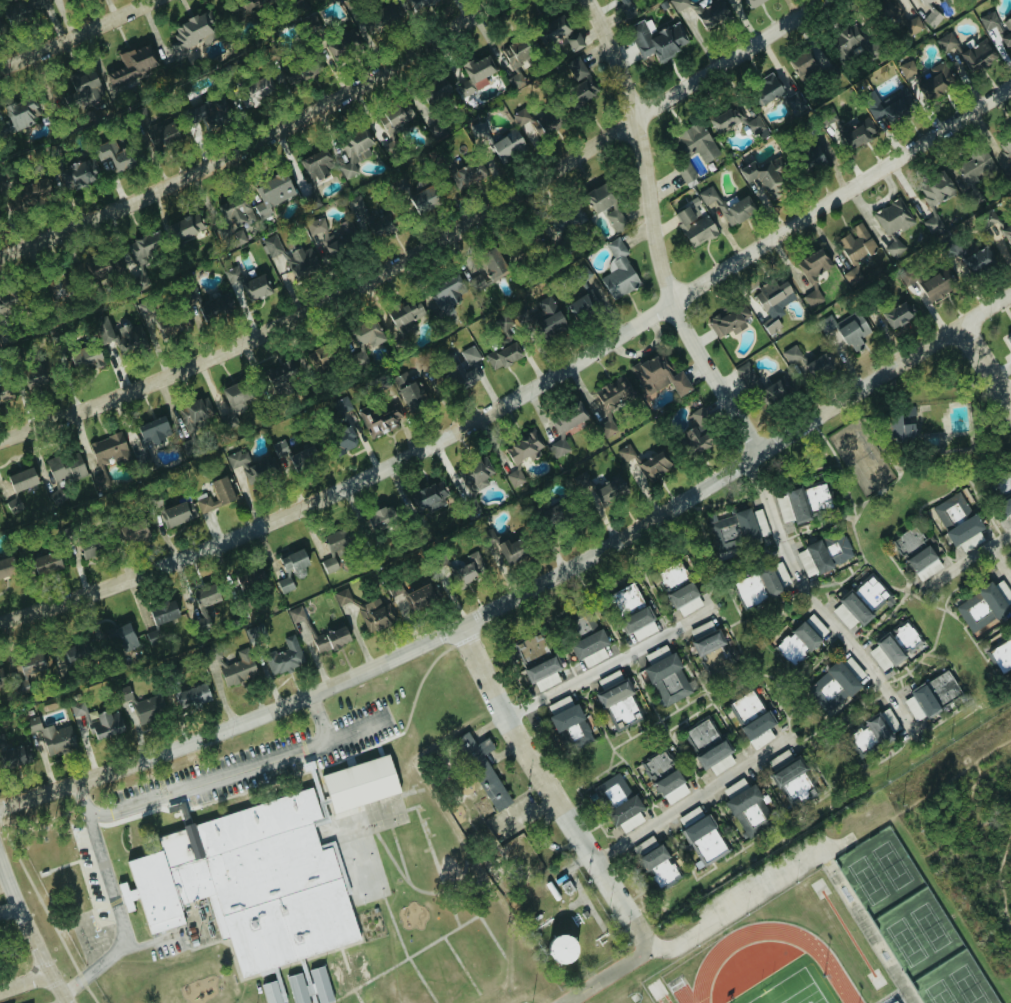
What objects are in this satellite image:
building: (925, 2)
building: (418, 3)
building: (750, 3)
building: (678, 4)
building: (251, 5)
building: (22, 9)
building: (883, 9)
building: (711, 13)
building: (384, 16)
building: (931, 18)
building: (911, 25)
road: (76, 32)
building: (190, 34)
building: (559, 34)
building: (846, 39)
building: (342, 42)
building: (966, 52)
building: (515, 61)
building: (806, 63)
building: (132, 67)
building: (478, 71)
building: (912, 78)
building: (580, 81)
building: (935, 81)
building: (464, 88)
building: (83, 90)
building: (764, 90)
building: (434, 91)
building: (54, 100)
building: (793, 101)
building: (897, 107)
building: (207, 113)
building: (729, 118)
building: (394, 119)
building: (535, 124)
building: (757, 128)
building: (479, 130)
building: (159, 131)
building: (851, 133)
road: (261, 143)
building: (696, 143)
building: (507, 146)
building: (353, 151)
building: (112, 155)
building: (316, 165)
building: (974, 167)
building: (685, 172)
building: (78, 173)
building: (469, 174)
building: (763, 174)
building: (34, 189)
building: (271, 194)
building: (706, 195)
building: (598, 198)
building: (934, 199)
building: (736, 210)
building: (369, 218)
building: (892, 218)
building: (567, 219)
building: (615, 220)
building: (235, 225)
building: (693, 226)
building: (185, 227)
building: (1007, 230)
road: (654, 234)
building: (328, 239)
building: (856, 243)
building: (144, 245)
building: (271, 245)
building: (1010, 246)
road: (425, 247)
building: (894, 248)
building: (972, 257)
building: (299, 260)
building: (492, 265)
building: (813, 266)
building: (618, 271)
building: (231, 275)
building: (851, 276)
building: (937, 284)
building: (259, 287)
building: (444, 293)
building: (812, 298)
building: (7, 303)
building: (771, 303)
building: (583, 305)
building: (210, 306)
building: (898, 314)
building: (522, 316)
building: (729, 320)
building: (549, 321)
building: (845, 329)
building: (368, 335)
building: (121, 337)
building: (1008, 341)
building: (502, 356)
building: (1010, 356)
building: (84, 357)
building: (805, 361)
road: (986, 363)
building: (464, 367)
building: (32, 375)
building: (280, 377)
building: (658, 377)
building: (401, 382)
building: (613, 394)
road: (526, 395)
building: (235, 396)
building: (411, 396)
building: (195, 410)
building: (379, 419)
building: (902, 425)
building: (564, 427)
building: (152, 432)
building: (695, 432)
building: (343, 441)
building: (109, 449)
building: (625, 453)
building: (291, 455)
building: (521, 455)
park: (860, 456)
building: (237, 459)
building: (655, 465)
building: (65, 468)
building: (260, 470)
building: (475, 474)
building: (100, 479)
building: (21, 480)
building: (610, 489)
building: (218, 495)
building: (55, 497)
building: (428, 498)
building: (815, 498)
building: (782, 504)
building: (12, 505)
building: (1005, 505)
building: (796, 506)
building: (472, 508)
building: (178, 513)
building: (383, 517)
building: (955, 518)
building: (734, 530)
building: (130, 532)
building: (66, 534)
building: (335, 541)
building: (970, 542)
building: (908, 543)
building: (88, 547)
building: (505, 549)
building: (824, 555)
building: (292, 560)
road: (966, 561)
road: (1001, 561)
building: (45, 563)
building: (923, 563)
building: (328, 565)
building: (6, 568)
building: (469, 568)
building: (672, 576)
building: (249, 580)
building: (284, 585)
building: (757, 588)
road: (526, 590)
building: (869, 594)
building: (342, 596)
building: (419, 596)
building: (684, 600)
building: (624, 601)
building: (203, 603)
road: (816, 603)
building: (981, 608)
building: (854, 609)
building: (162, 613)
building: (295, 614)
building: (372, 615)
building: (843, 616)
building: (637, 624)
building: (583, 625)
building: (815, 626)
building: (254, 632)
building: (152, 636)
building: (122, 638)
building: (327, 638)
building: (707, 638)
building: (903, 639)
building: (588, 643)
building: (797, 643)
building: (530, 648)
building: (75, 653)
building: (884, 653)
building: (598, 654)
building: (1001, 656)
building: (284, 657)
building: (30, 662)
road: (611, 663)
building: (237, 668)
building: (852, 669)
building: (542, 673)
building: (666, 676)
building: (833, 687)
building: (941, 688)
building: (123, 694)
building: (192, 696)
building: (616, 699)
building: (558, 704)
building: (920, 704)
building: (77, 708)
building: (148, 709)
road: (319, 718)
building: (752, 719)
building: (104, 723)
building: (571, 725)
building: (874, 729)
building: (700, 735)
building: (13, 756)
building: (714, 757)
building: (656, 766)
building: (482, 769)
road: (234, 774)
building: (792, 782)
road: (547, 784)
building: (670, 787)
building: (733, 787)
road: (695, 797)
building: (618, 803)
building: (748, 811)
building: (689, 816)
building: (702, 840)
building: (653, 860)
park: (890, 864)
building: (270, 871)
parking lot: (766, 880)
park: (866, 880)
road: (115, 900)
road: (737, 907)
park: (928, 926)
road: (30, 932)
park: (905, 941)
building: (560, 948)
track: (709, 963)
road: (610, 973)
building: (305, 976)
road: (25, 981)
building: (319, 984)
park: (966, 985)
building: (296, 988)
park: (789, 990)
park: (939, 992)

